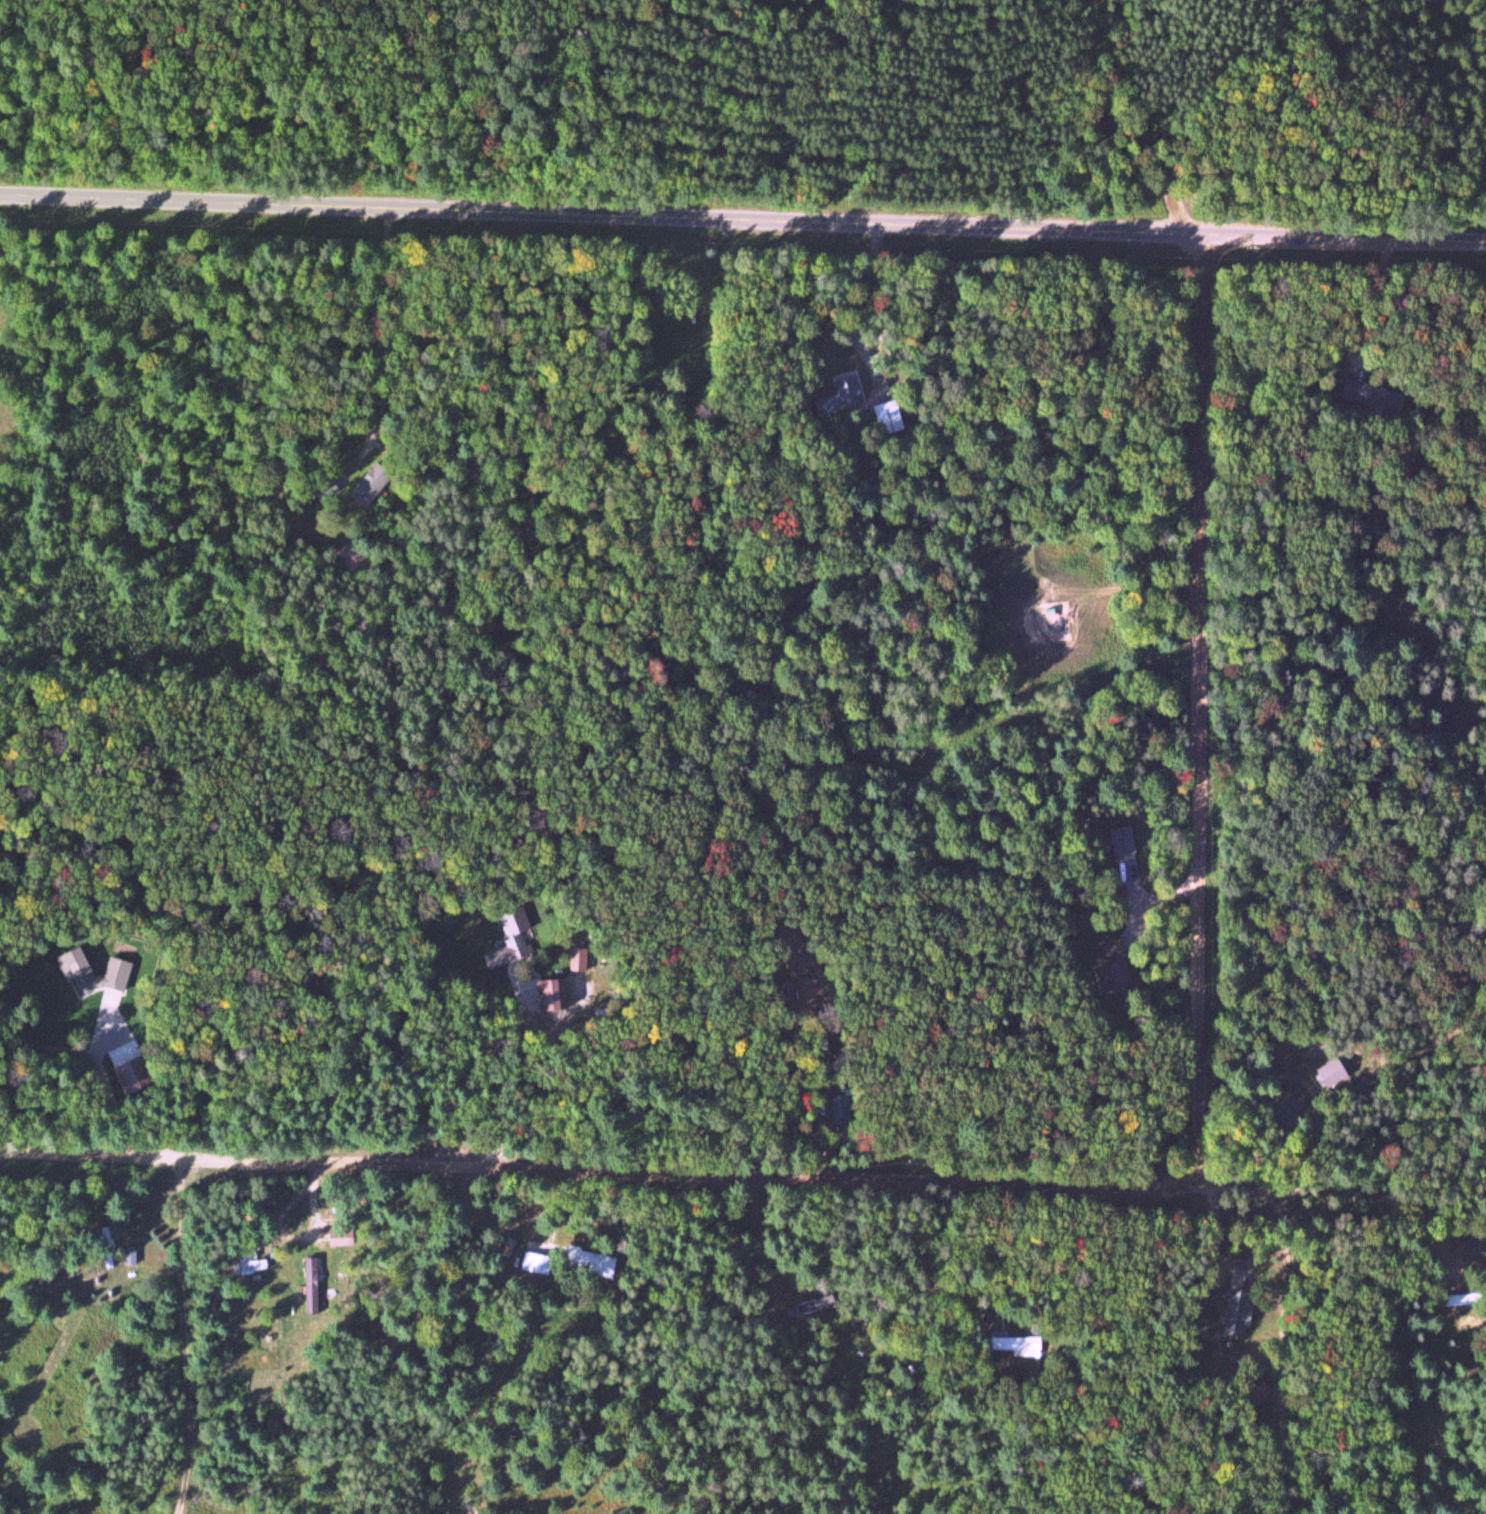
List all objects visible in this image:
road: (1134, 124)
road: (742, 224)
building: (839, 396)
building: (1369, 397)
building: (888, 417)
building: (371, 482)
building: (321, 486)
building: (351, 557)
road: (1194, 708)
building: (510, 942)
building: (1111, 963)
building: (75, 970)
building: (131, 1073)
building: (1283, 1113)
road: (594, 1172)
road: (1330, 1193)
road: (1282, 1225)
building: (1472, 1246)
building: (105, 1250)
building: (585, 1262)
building: (533, 1263)
building: (249, 1264)
building: (313, 1273)
building: (1450, 1300)
building: (808, 1306)
building: (1234, 1314)
building: (1013, 1346)
building: (841, 1357)

